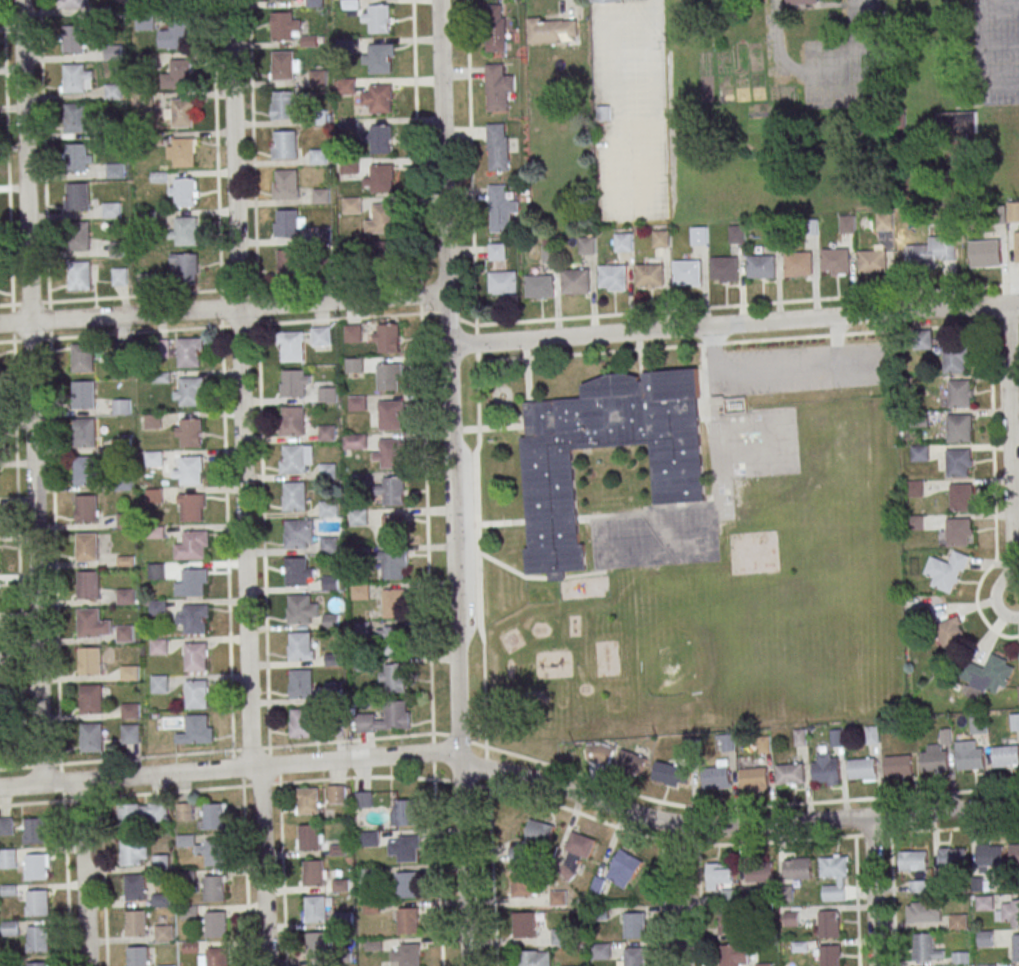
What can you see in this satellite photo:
building: (282, 0)
road: (576, 0)
building: (609, 0)
building: (180, 2)
building: (804, 2)
road: (980, 2)
building: (74, 4)
building: (315, 4)
building: (351, 5)
building: (101, 15)
building: (378, 18)
building: (146, 23)
building: (283, 28)
building: (496, 29)
building: (552, 30)
building: (181, 36)
building: (74, 42)
building: (347, 48)
building: (114, 54)
building: (381, 60)
parking lot: (628, 64)
building: (146, 65)
building: (284, 67)
building: (179, 76)
building: (319, 79)
building: (75, 80)
road: (827, 80)
building: (348, 88)
building: (500, 88)
building: (114, 93)
building: (380, 100)
building: (145, 101)
building: (286, 107)
building: (603, 113)
building: (183, 114)
building: (319, 118)
building: (77, 119)
building: (957, 124)
road: (642, 125)
building: (379, 139)
building: (287, 147)
building: (500, 148)
building: (185, 154)
building: (319, 158)
building: (77, 160)
building: (351, 168)
building: (115, 172)
building: (381, 180)
building: (287, 185)
road: (472, 192)
building: (186, 194)
building: (322, 198)
building: (79, 199)
building: (353, 207)
building: (500, 210)
building: (1012, 211)
building: (112, 212)
building: (382, 219)
building: (150, 220)
building: (884, 223)
building: (288, 225)
building: (847, 226)
building: (810, 228)
building: (187, 232)
building: (737, 235)
building: (323, 236)
building: (699, 237)
building: (79, 238)
building: (661, 240)
building: (623, 244)
building: (1016, 246)
building: (587, 247)
building: (381, 250)
building: (117, 251)
building: (497, 252)
building: (986, 253)
building: (551, 255)
building: (920, 257)
building: (836, 262)
building: (872, 263)
building: (290, 265)
building: (798, 265)
building: (325, 268)
building: (762, 269)
building: (187, 270)
building: (724, 271)
building: (687, 273)
building: (650, 277)
building: (80, 278)
building: (612, 278)
building: (120, 279)
road: (349, 282)
building: (150, 283)
building: (576, 283)
building: (502, 285)
building: (540, 288)
road: (223, 308)
road: (734, 324)
road: (210, 328)
building: (352, 333)
building: (321, 336)
building: (387, 338)
road: (476, 344)
building: (293, 349)
building: (189, 355)
building: (956, 359)
building: (83, 360)
building: (389, 376)
building: (295, 386)
road: (30, 392)
building: (960, 393)
building: (191, 394)
building: (327, 394)
building: (84, 397)
building: (357, 403)
building: (121, 406)
building: (390, 415)
building: (294, 423)
building: (959, 428)
building: (326, 433)
building: (85, 435)
building: (192, 436)
road: (1012, 436)
building: (354, 441)
building: (920, 453)
building: (389, 454)
building: (295, 461)
road: (225, 462)
building: (959, 463)
building: (86, 473)
building: (191, 473)
building: (549, 476)
road: (242, 483)
road: (262, 483)
road: (452, 483)
building: (390, 491)
building: (961, 497)
building: (296, 499)
building: (328, 508)
building: (193, 510)
building: (87, 511)
building: (355, 517)
building: (125, 520)
building: (393, 527)
building: (959, 532)
building: (297, 537)
building: (329, 544)
building: (195, 547)
building: (88, 549)
building: (393, 565)
road: (1018, 569)
building: (156, 571)
building: (947, 572)
building: (297, 574)
building: (329, 583)
building: (193, 584)
building: (89, 587)
building: (360, 591)
road: (996, 595)
building: (126, 596)
building: (393, 603)
building: (300, 611)
building: (331, 621)
building: (195, 622)
building: (90, 625)
building: (951, 632)
building: (125, 633)
building: (392, 640)
building: (158, 646)
building: (301, 648)
building: (197, 660)
building: (91, 663)
building: (129, 672)
building: (989, 677)
building: (393, 678)
building: (159, 684)
building: (302, 686)
building: (1018, 689)
building: (197, 697)
building: (92, 702)
building: (130, 711)
building: (387, 718)
building: (1015, 722)
building: (978, 725)
building: (303, 727)
building: (130, 733)
building: (197, 734)
building: (800, 737)
building: (92, 741)
road: (432, 742)
building: (727, 742)
building: (764, 744)
building: (0, 750)
building: (599, 753)
building: (1006, 756)
building: (970, 759)
building: (934, 761)
building: (631, 762)
building: (898, 765)
road: (39, 767)
road: (12, 769)
building: (862, 769)
building: (826, 772)
building: (672, 774)
building: (789, 774)
road: (511, 775)
building: (715, 776)
building: (753, 778)
road: (499, 791)
building: (337, 794)
road: (121, 797)
road: (884, 798)
building: (309, 801)
building: (184, 811)
building: (403, 813)
building: (143, 814)
building: (213, 816)
building: (6, 826)
building: (34, 831)
building: (540, 832)
road: (882, 834)
building: (309, 836)
building: (370, 839)
building: (405, 849)
building: (130, 852)
building: (215, 853)
building: (575, 854)
building: (1014, 854)
building: (991, 855)
road: (491, 856)
building: (953, 857)
building: (8, 859)
building: (913, 861)
road: (65, 865)
building: (35, 867)
building: (833, 867)
building: (624, 869)
building: (797, 869)
building: (759, 871)
building: (313, 872)
building: (719, 872)
road: (83, 873)
road: (245, 876)
building: (370, 876)
road: (102, 882)
building: (406, 884)
building: (527, 884)
building: (340, 885)
building: (135, 887)
building: (213, 889)
road: (872, 891)
road: (681, 895)
building: (728, 897)
building: (558, 899)
building: (160, 900)
road: (892, 900)
road: (856, 901)
building: (36, 903)
road: (662, 903)
building: (984, 903)
road: (699, 905)
building: (315, 909)
building: (923, 911)
building: (189, 913)
building: (1015, 913)
building: (791, 918)
building: (343, 920)
building: (408, 920)
building: (958, 921)
building: (135, 923)
building: (728, 923)
building: (215, 924)
building: (828, 924)
building: (634, 925)
building: (525, 926)
building: (10, 928)
building: (164, 933)
building: (565, 937)
building: (986, 938)
building: (37, 940)
building: (316, 944)
building: (923, 947)
building: (1016, 947)
building: (601, 952)
building: (406, 954)
building: (734, 955)
building: (828, 955)
building: (137, 956)
building: (216, 957)
building: (634, 957)
building: (528, 958)
building: (960, 958)
building: (37, 964)

